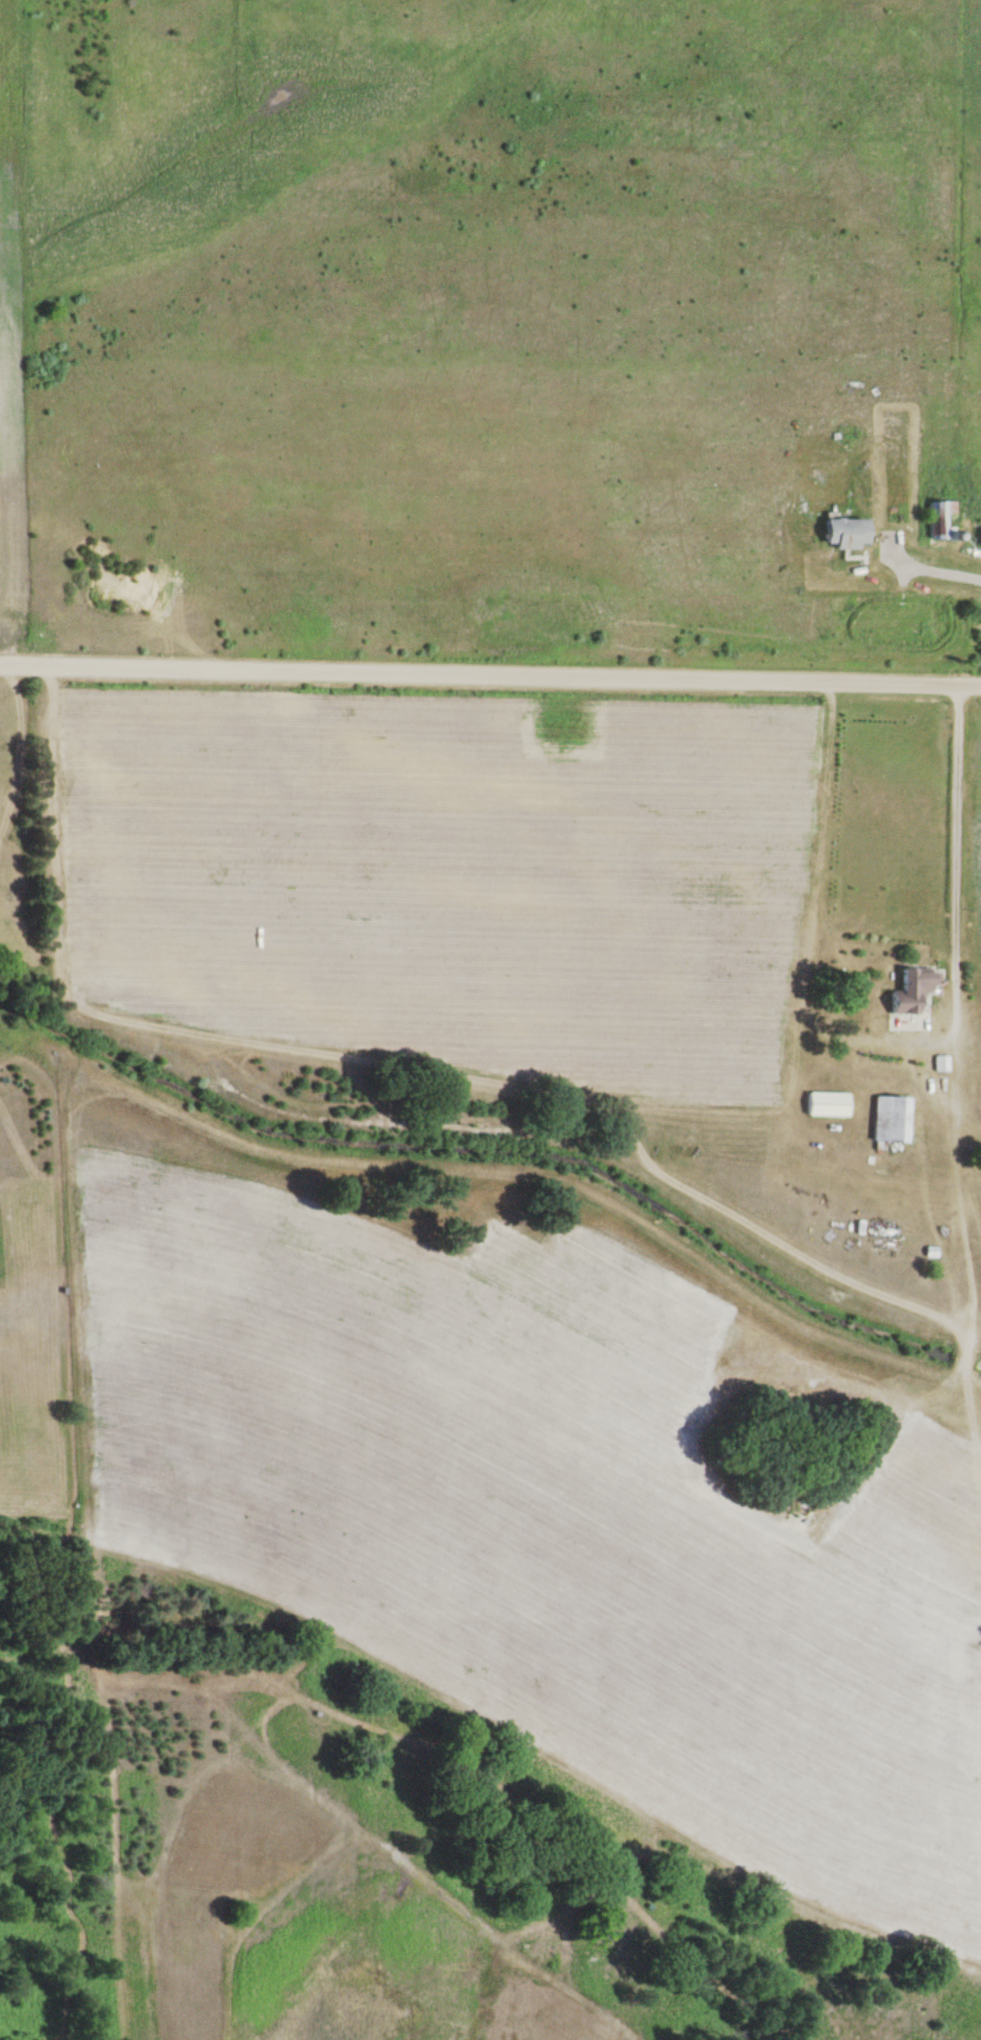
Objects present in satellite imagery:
building: (940, 519)
building: (838, 532)
building: (979, 537)
road: (490, 681)
building: (908, 989)
building: (827, 1104)
building: (888, 1119)

